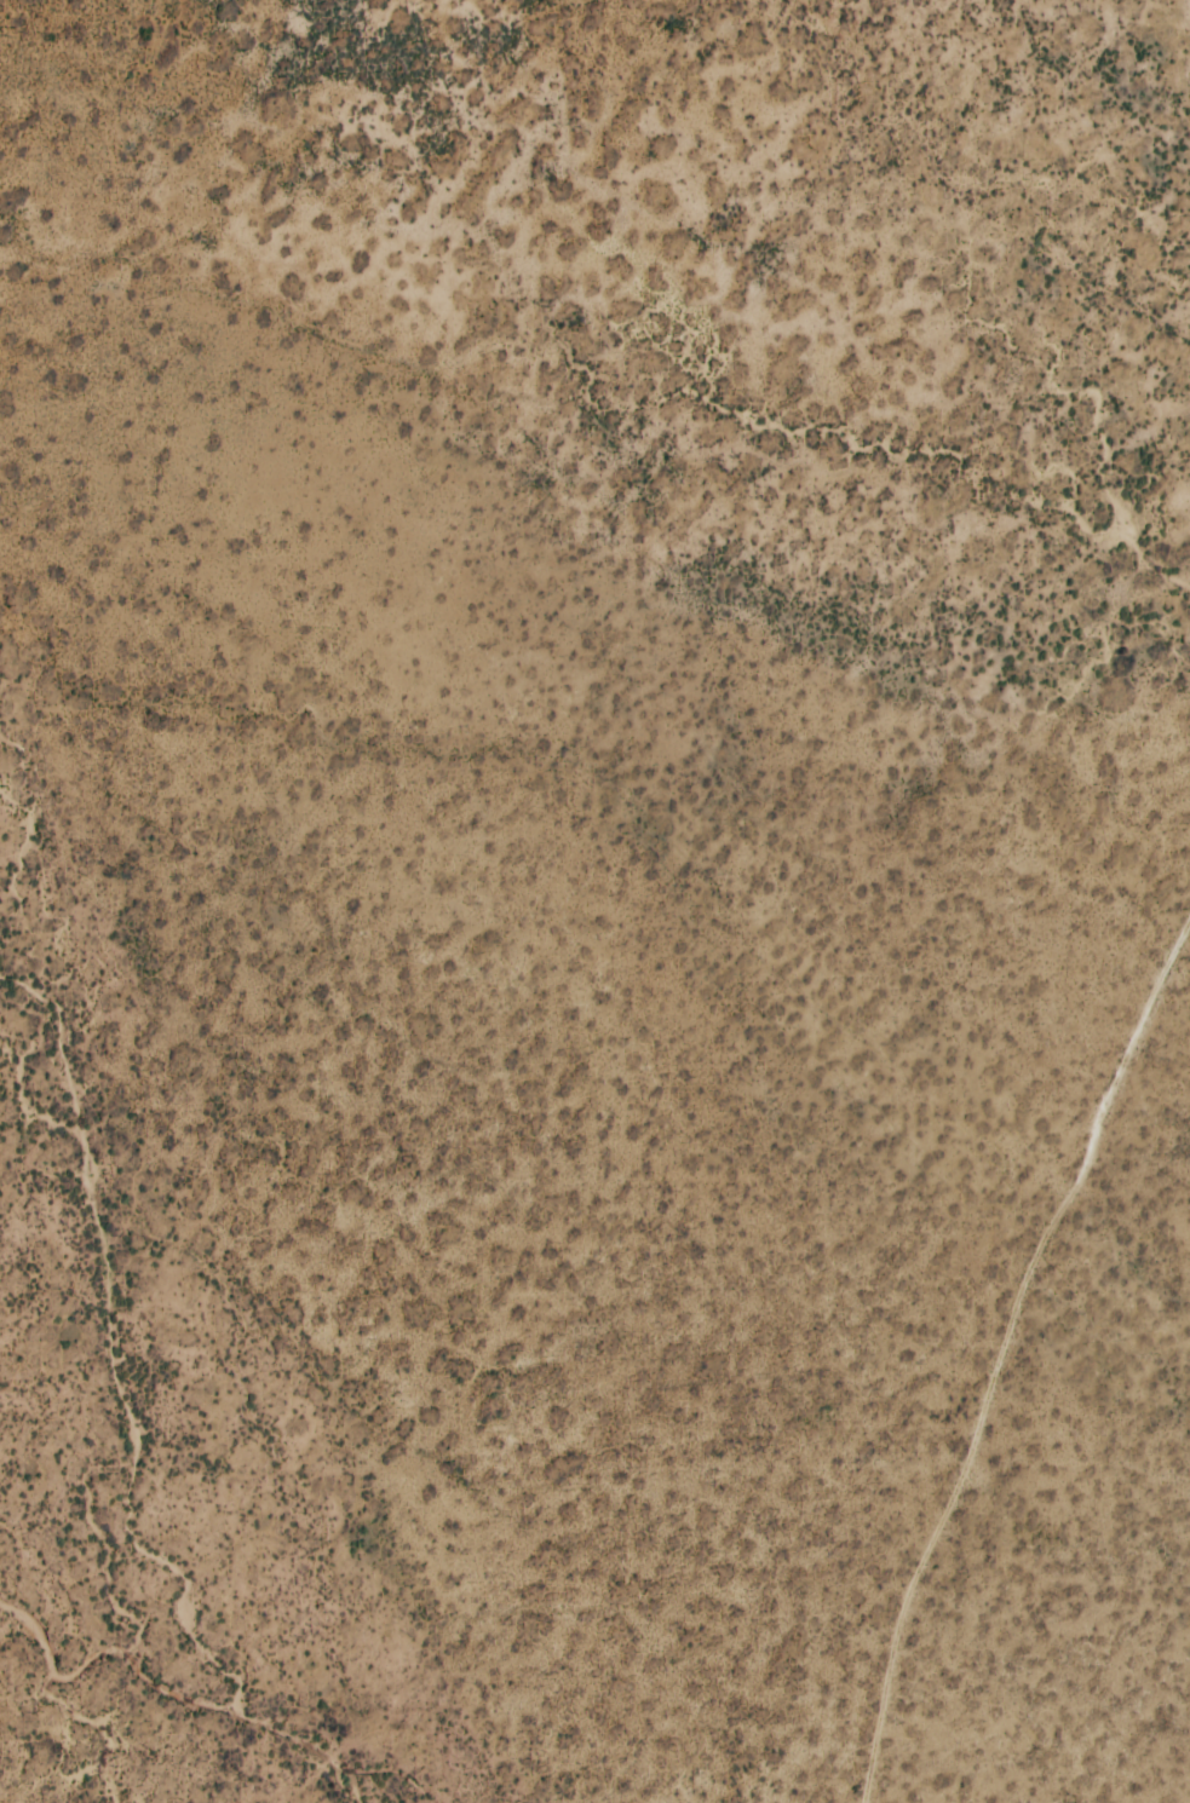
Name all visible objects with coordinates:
road: (1083, 1169)
road: (945, 1618)

